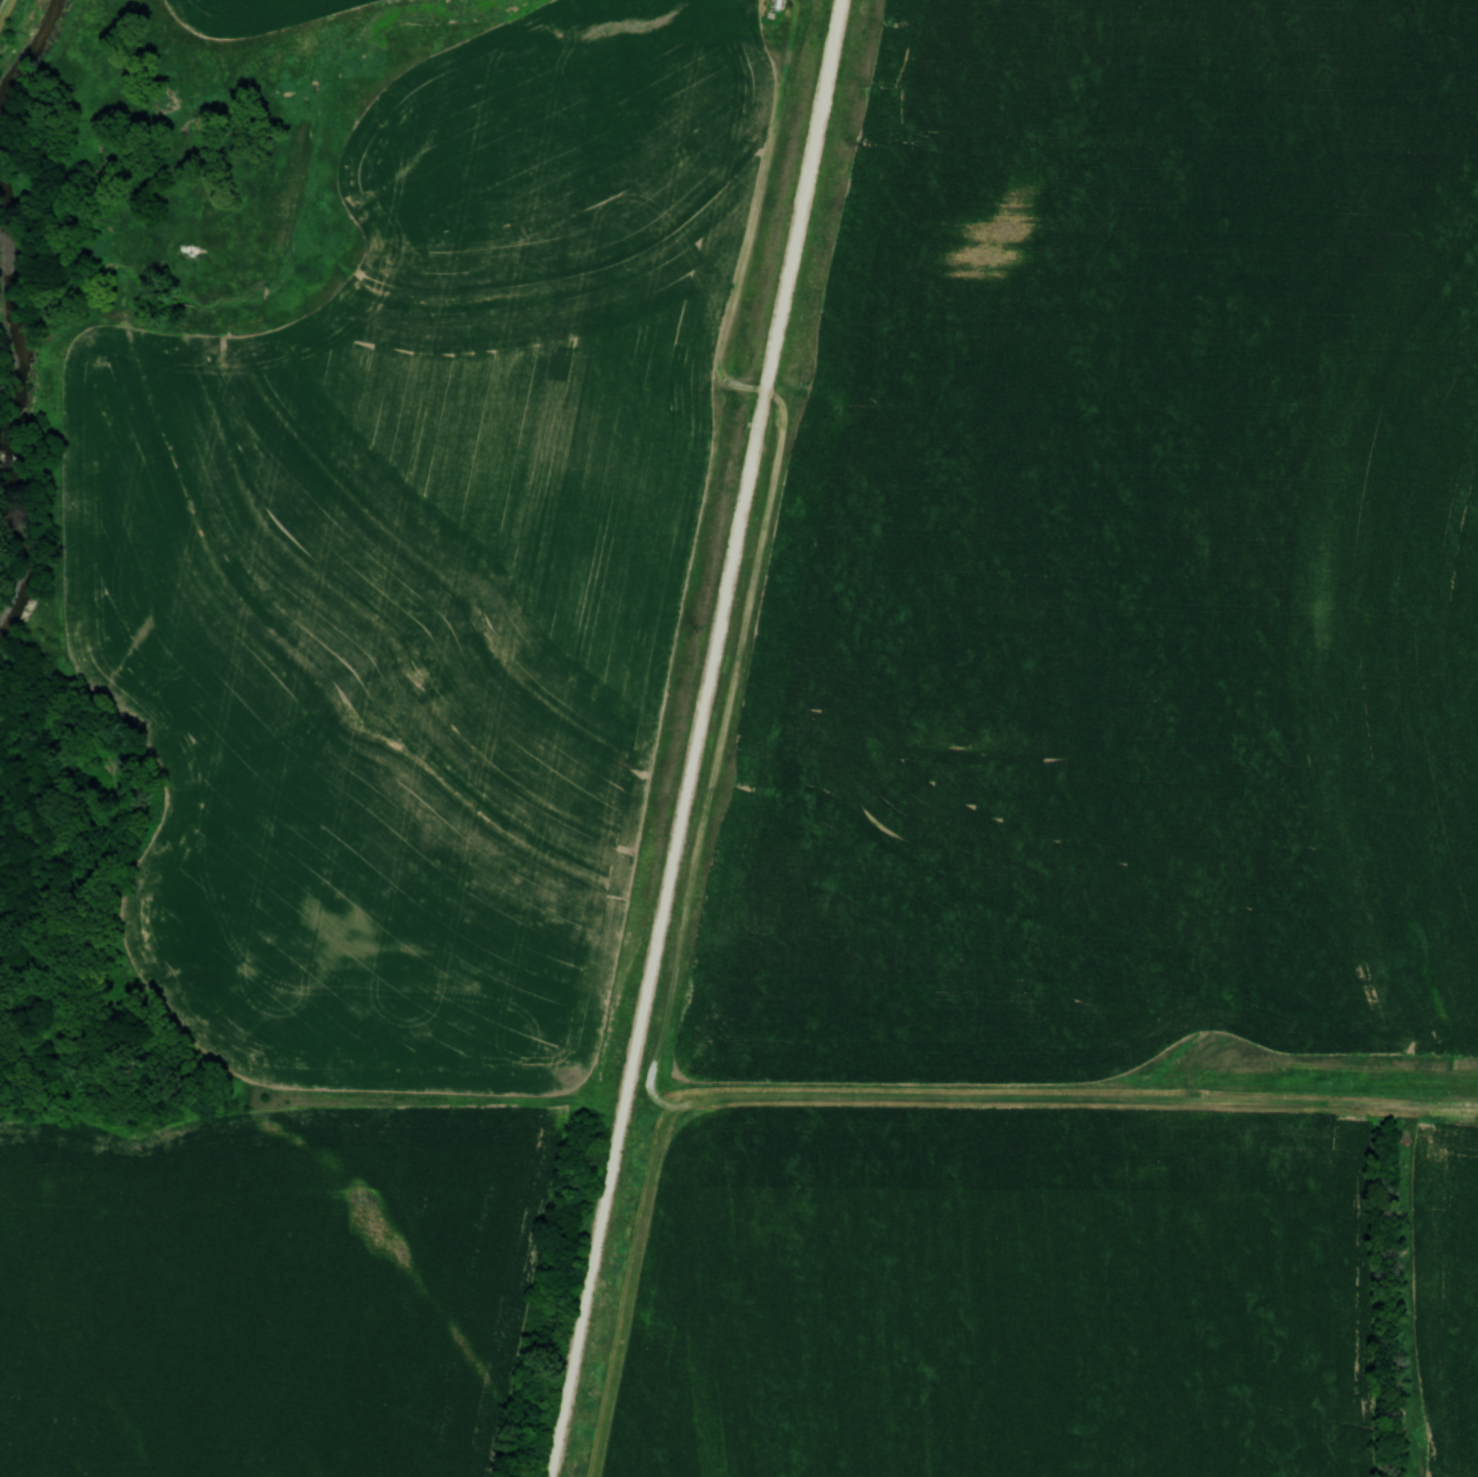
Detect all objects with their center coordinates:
road: (695, 738)
road: (1439, 1105)
crop: (270, 1286)
crop: (1003, 1295)

